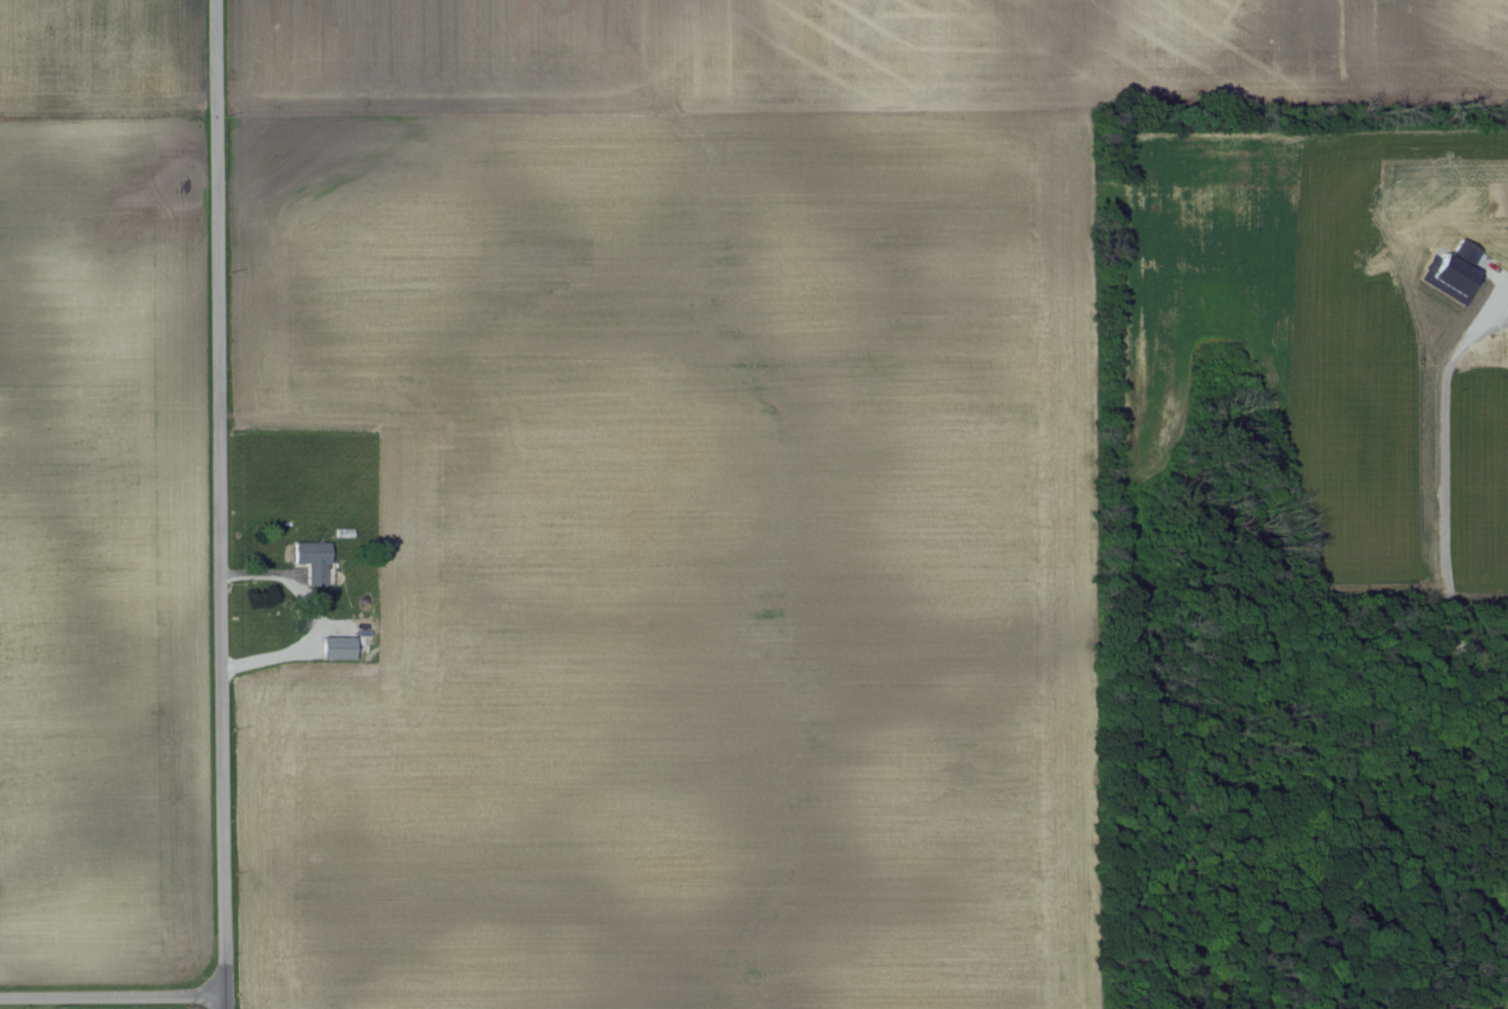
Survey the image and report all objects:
road: (219, 504)
building: (315, 561)
road: (314, 618)
building: (340, 646)
road: (112, 996)

